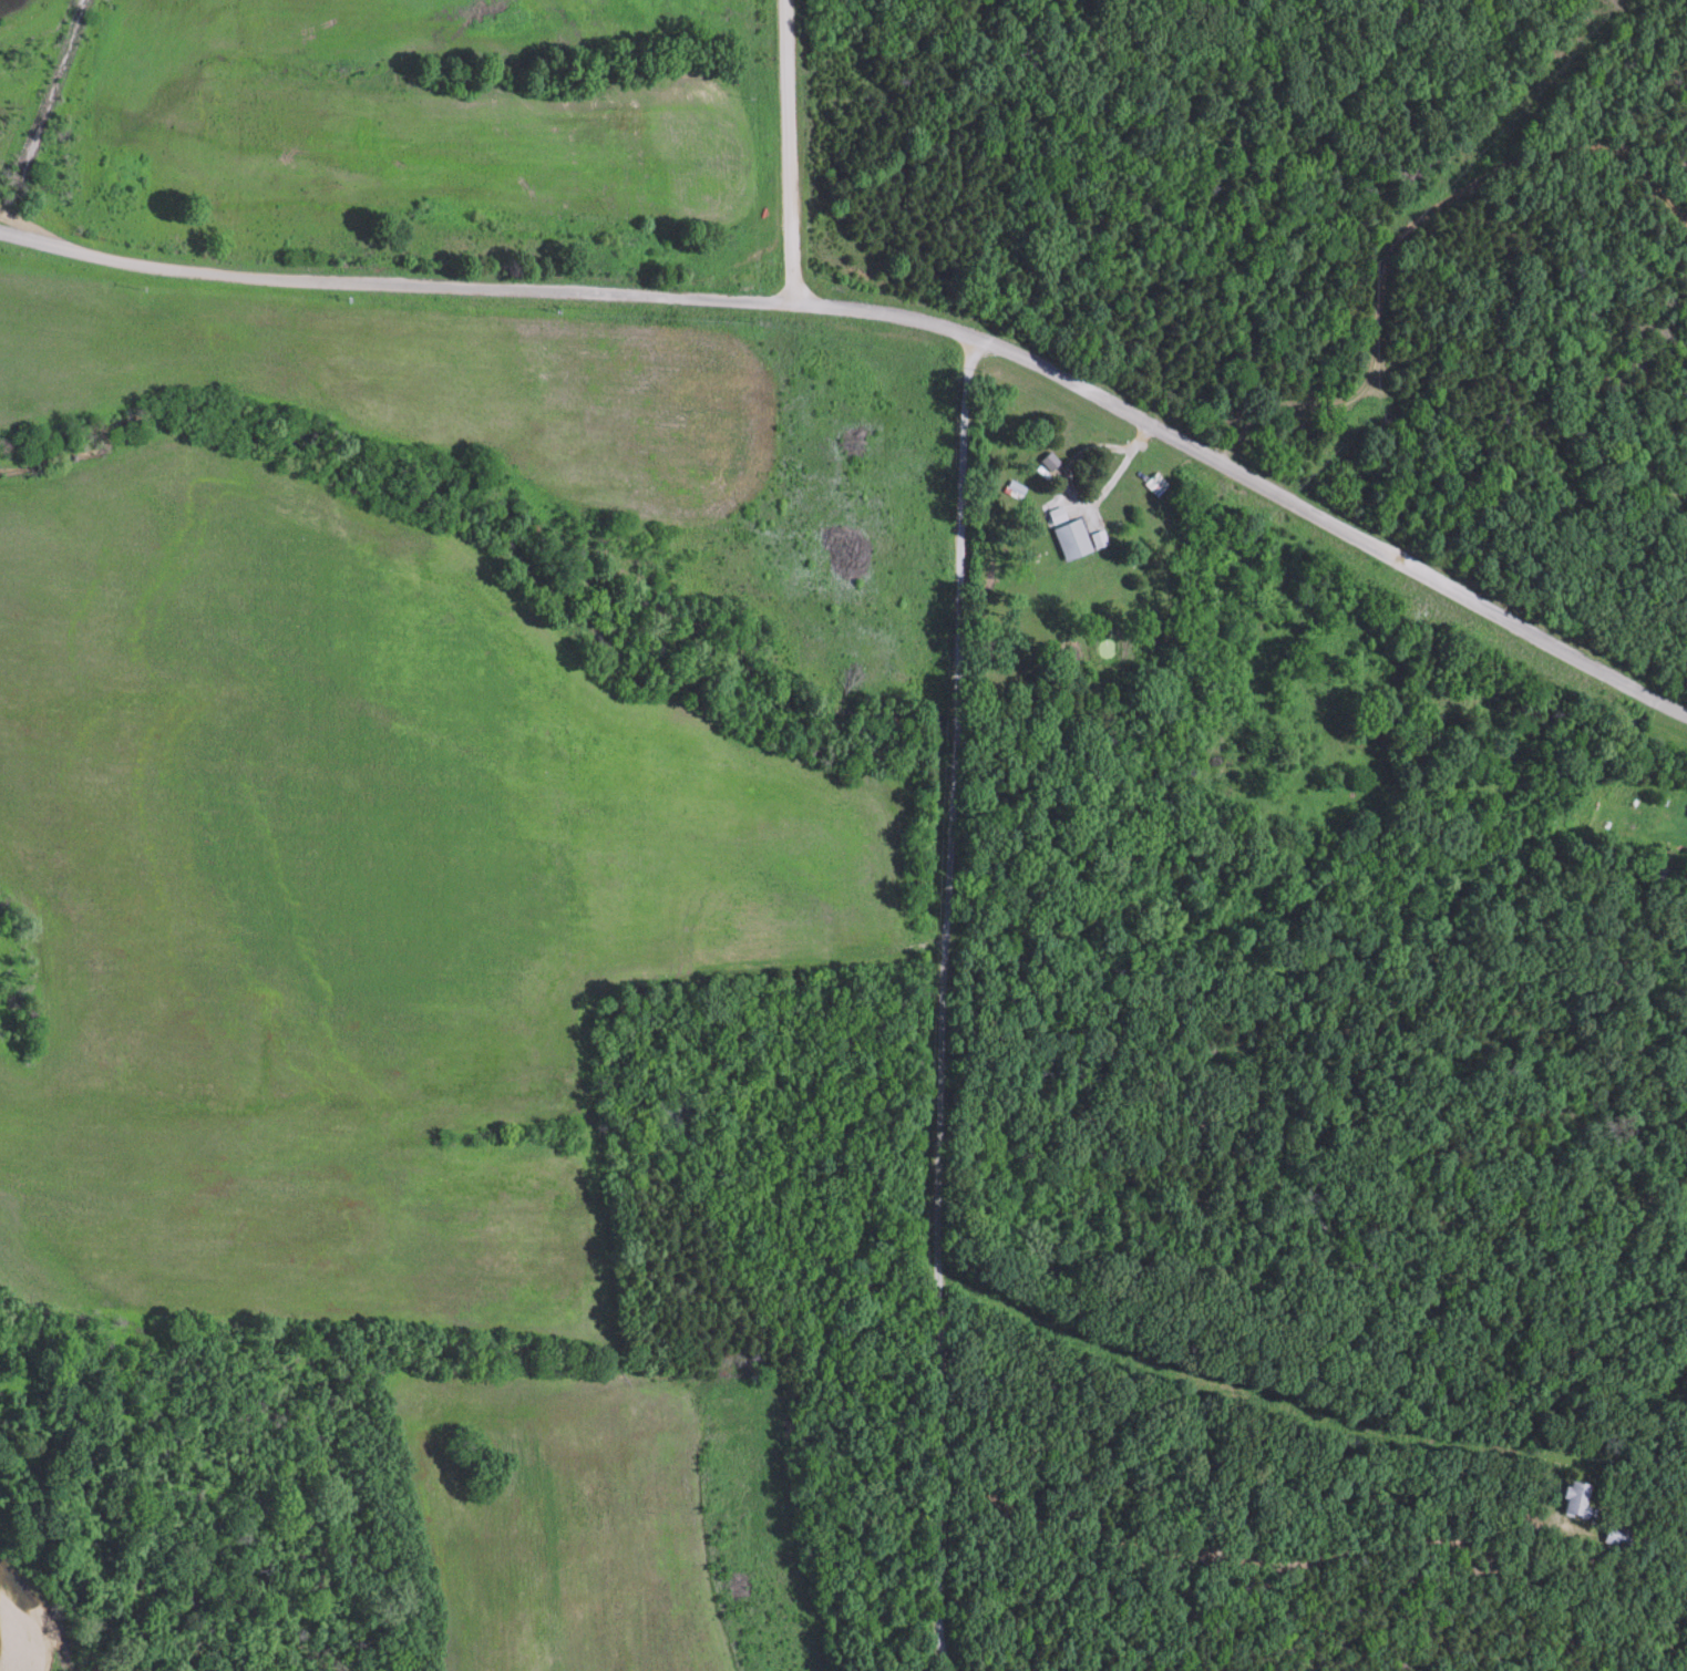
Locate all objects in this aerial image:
road: (793, 151)
road: (899, 313)
building: (1077, 539)
road: (946, 1002)
road: (1249, 1568)

